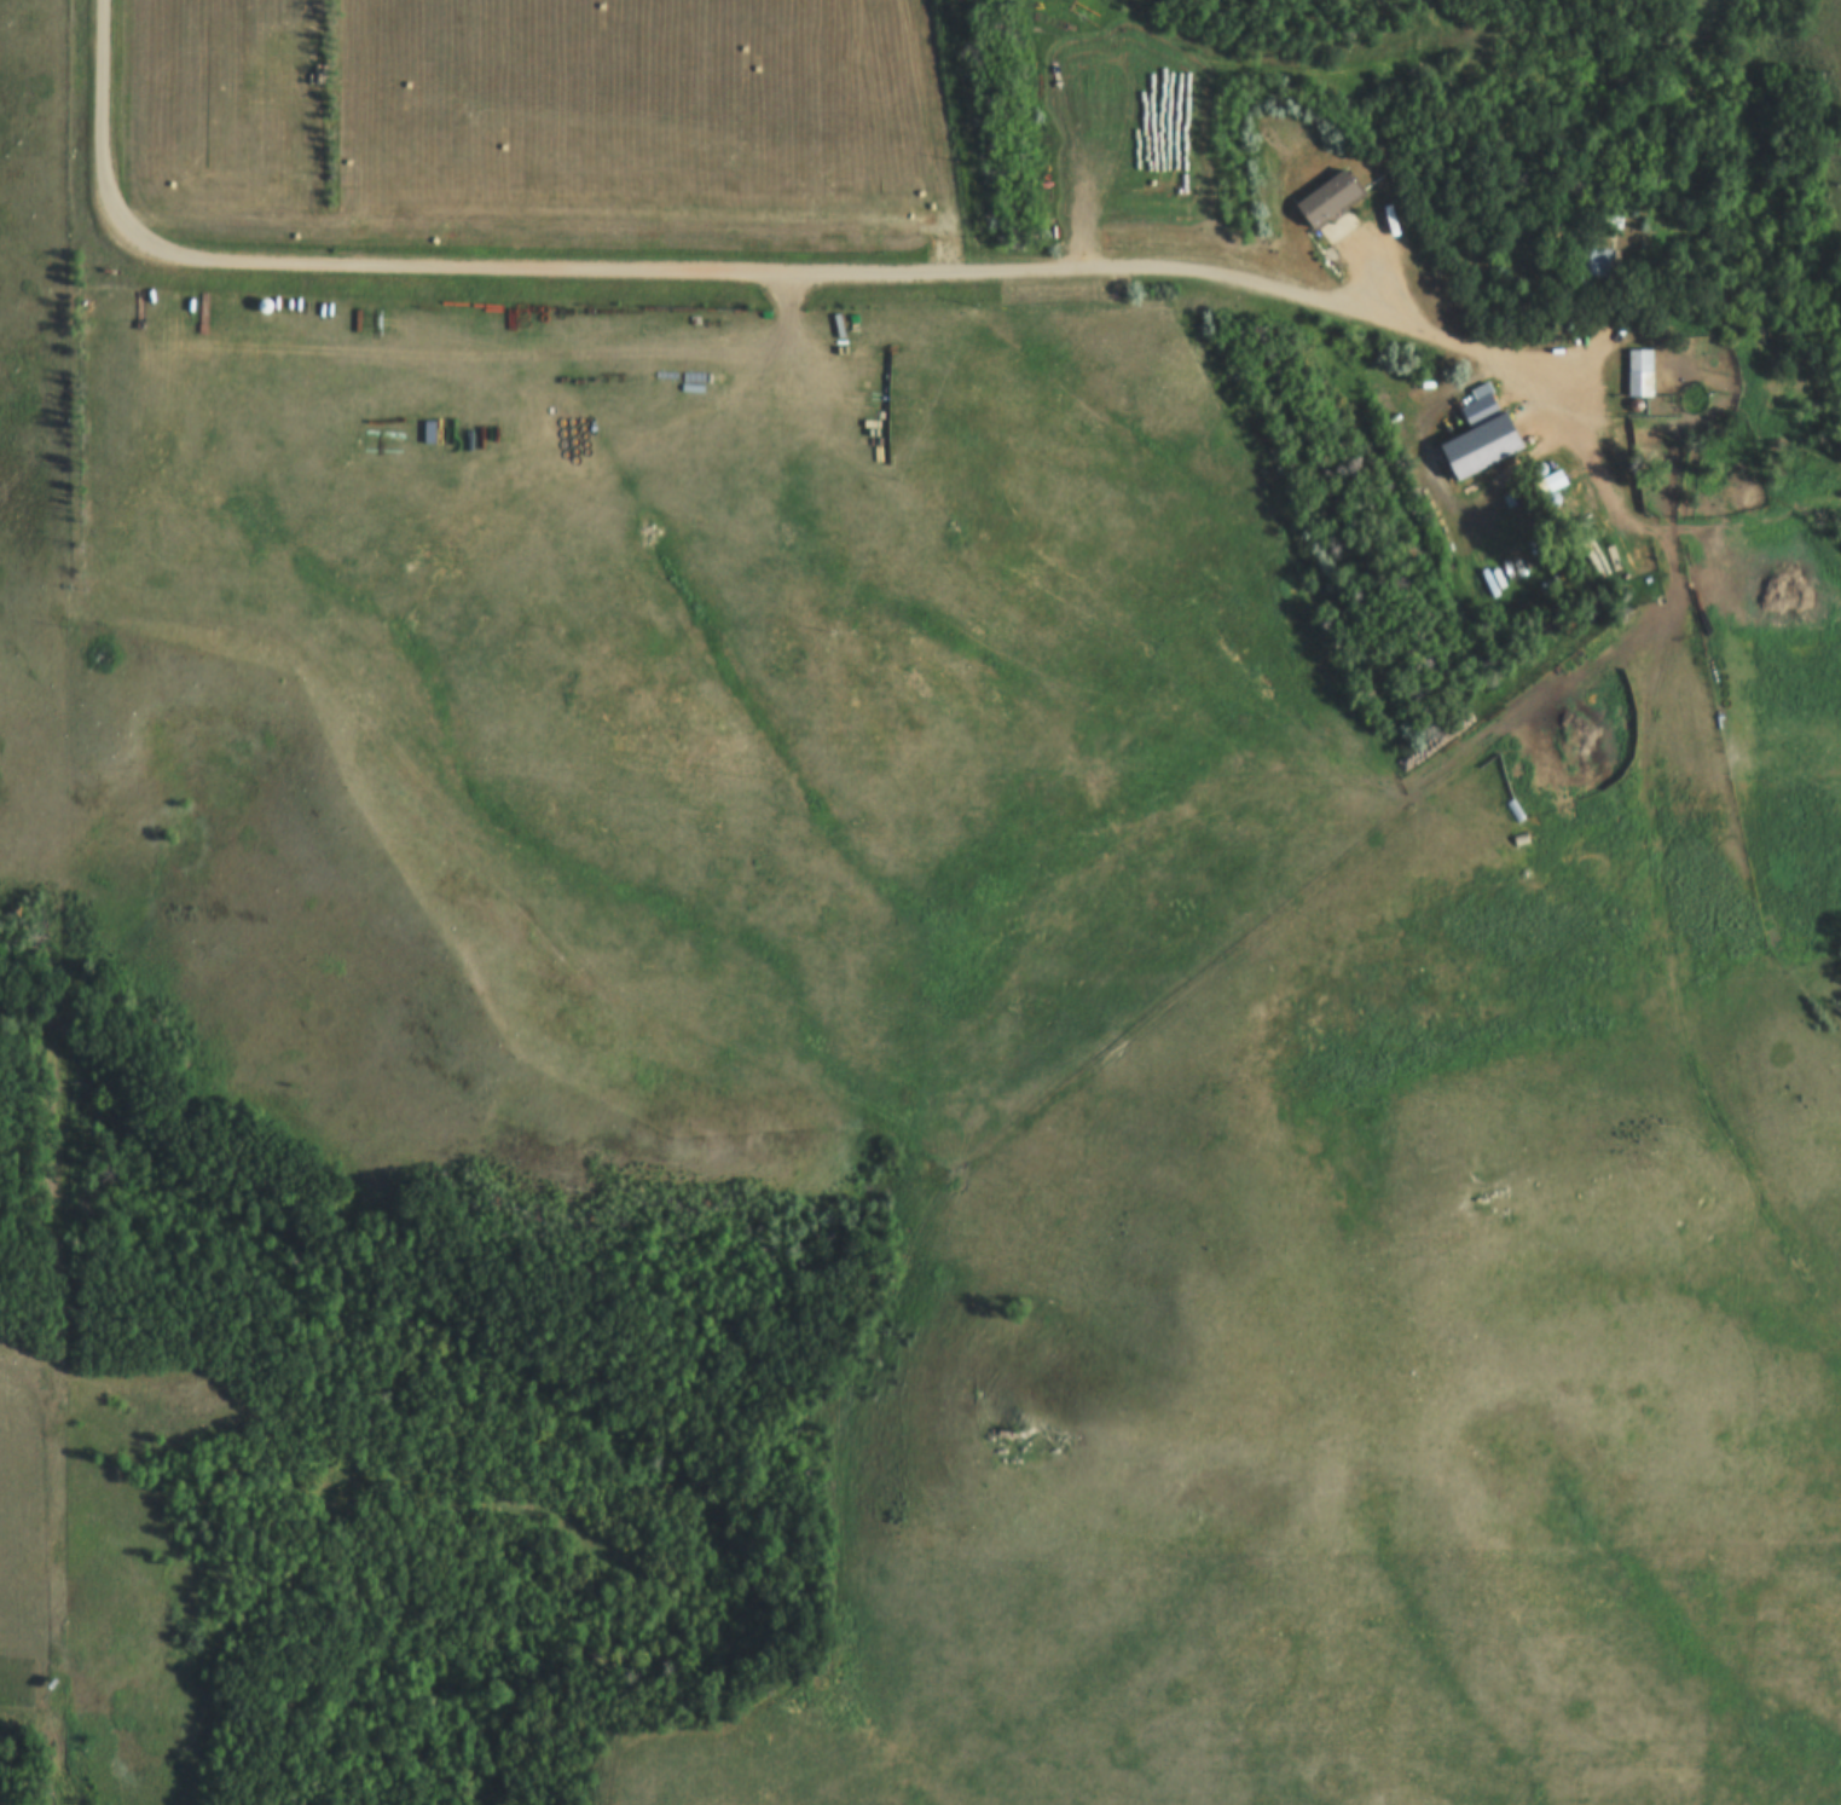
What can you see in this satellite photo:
road: (930, 138)
building: (1330, 196)
road: (769, 276)
building: (830, 355)
building: (1637, 374)
building: (1475, 407)
building: (1481, 449)
building: (1555, 485)
building: (1505, 575)
building: (1494, 580)
building: (1517, 812)
building: (1504, 820)
building: (1513, 846)

